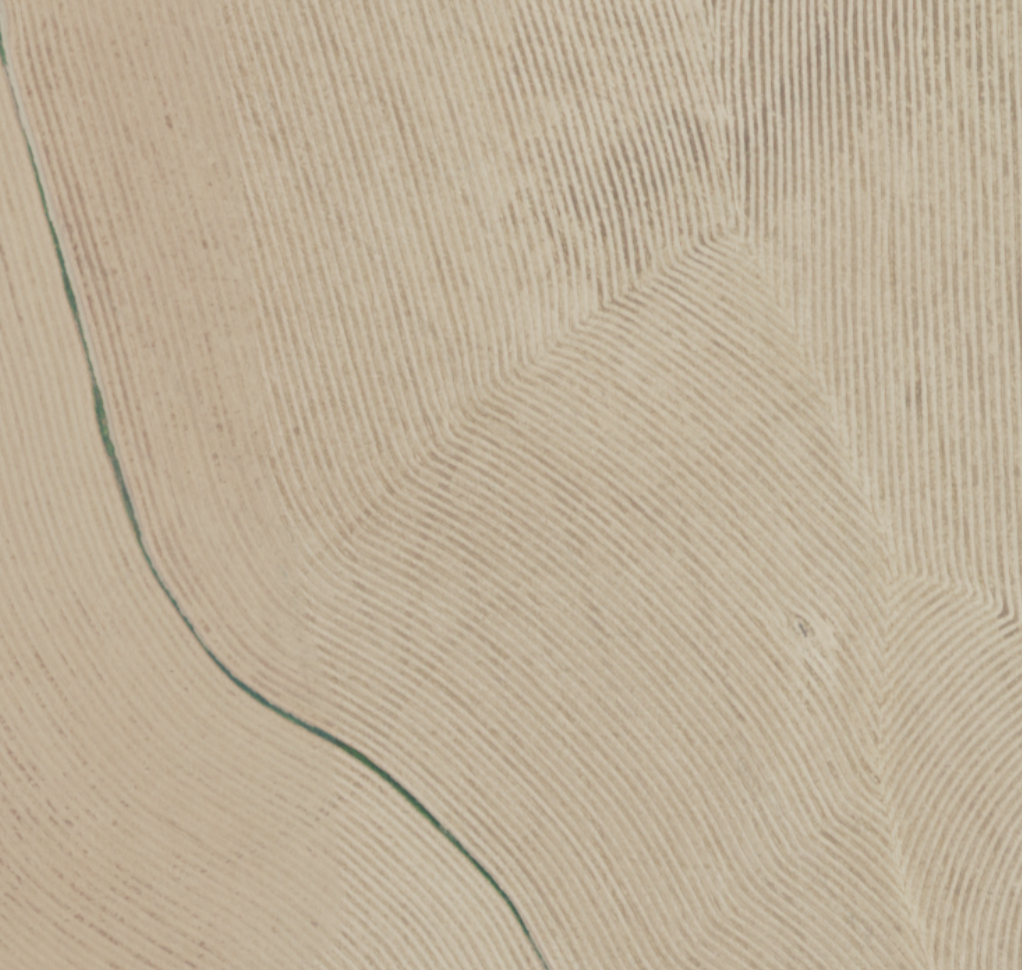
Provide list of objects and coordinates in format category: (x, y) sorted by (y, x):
crop: (511, 485)

